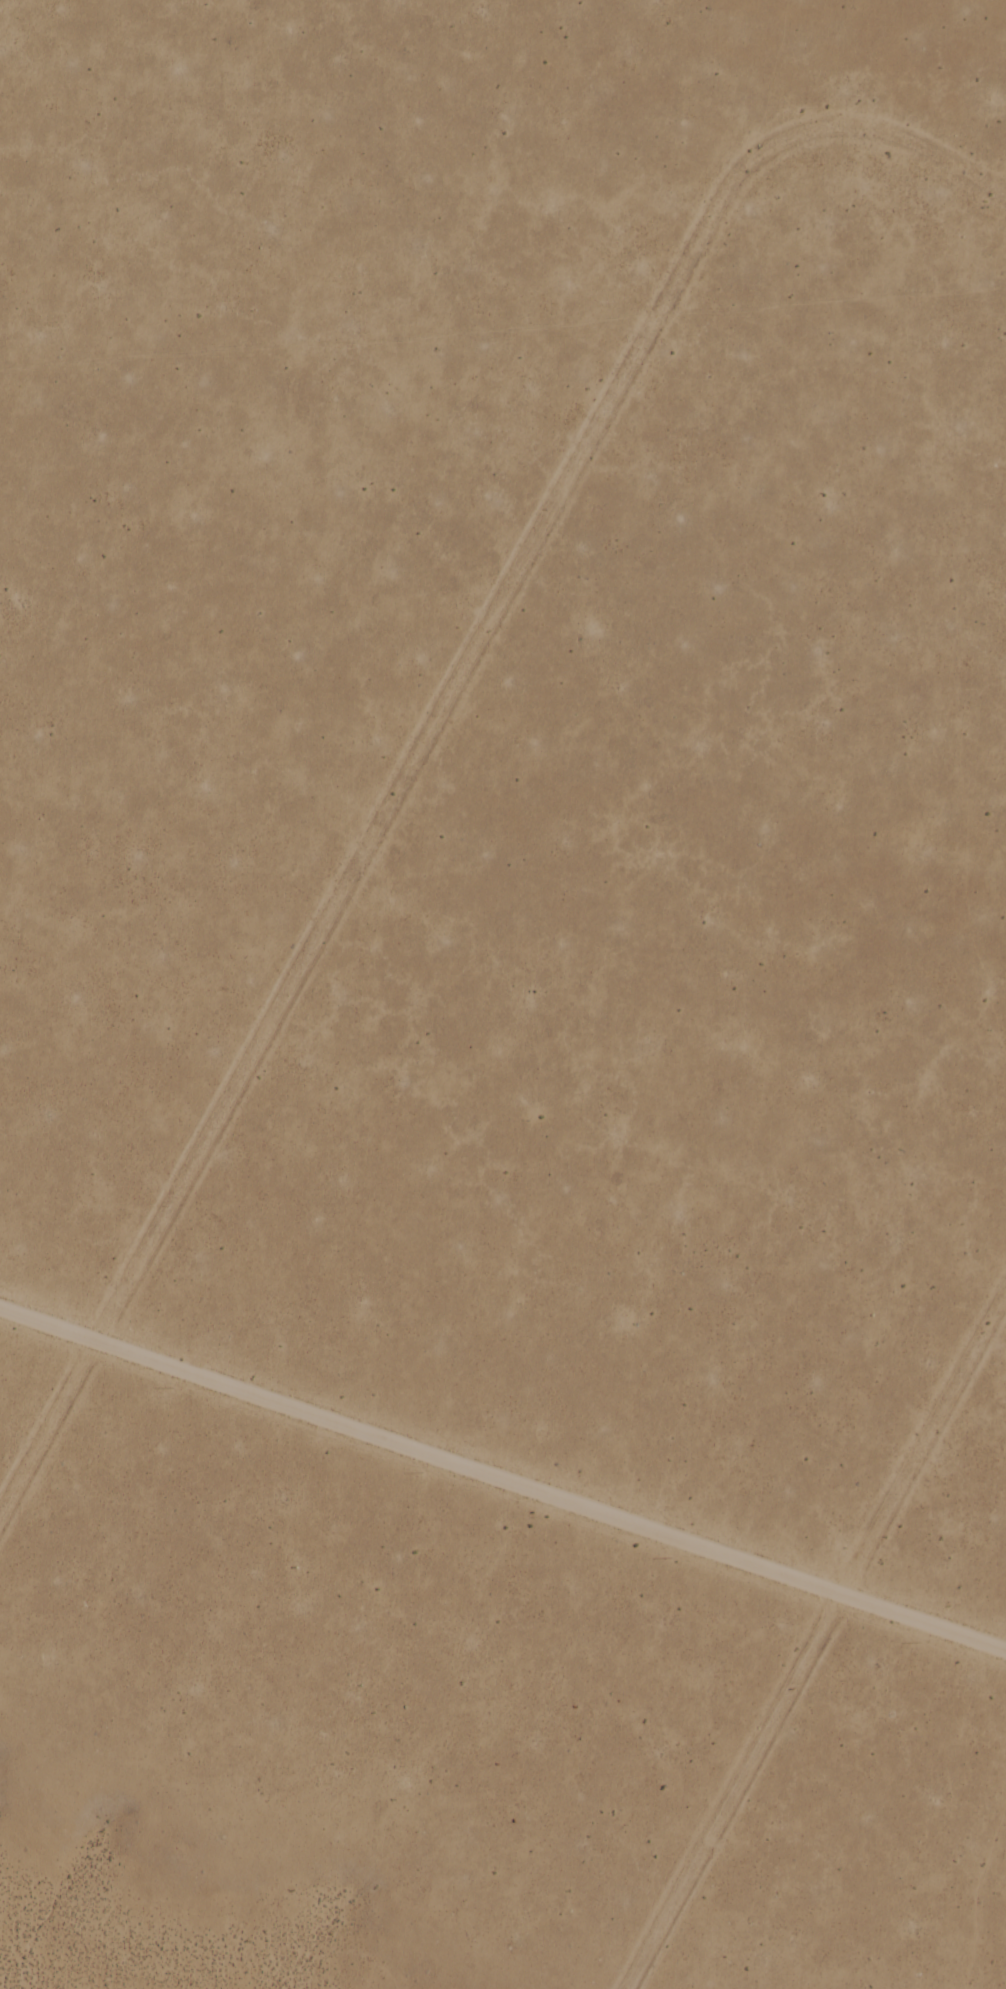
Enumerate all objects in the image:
road: (432, 714)
road: (502, 1491)
road: (814, 1642)

